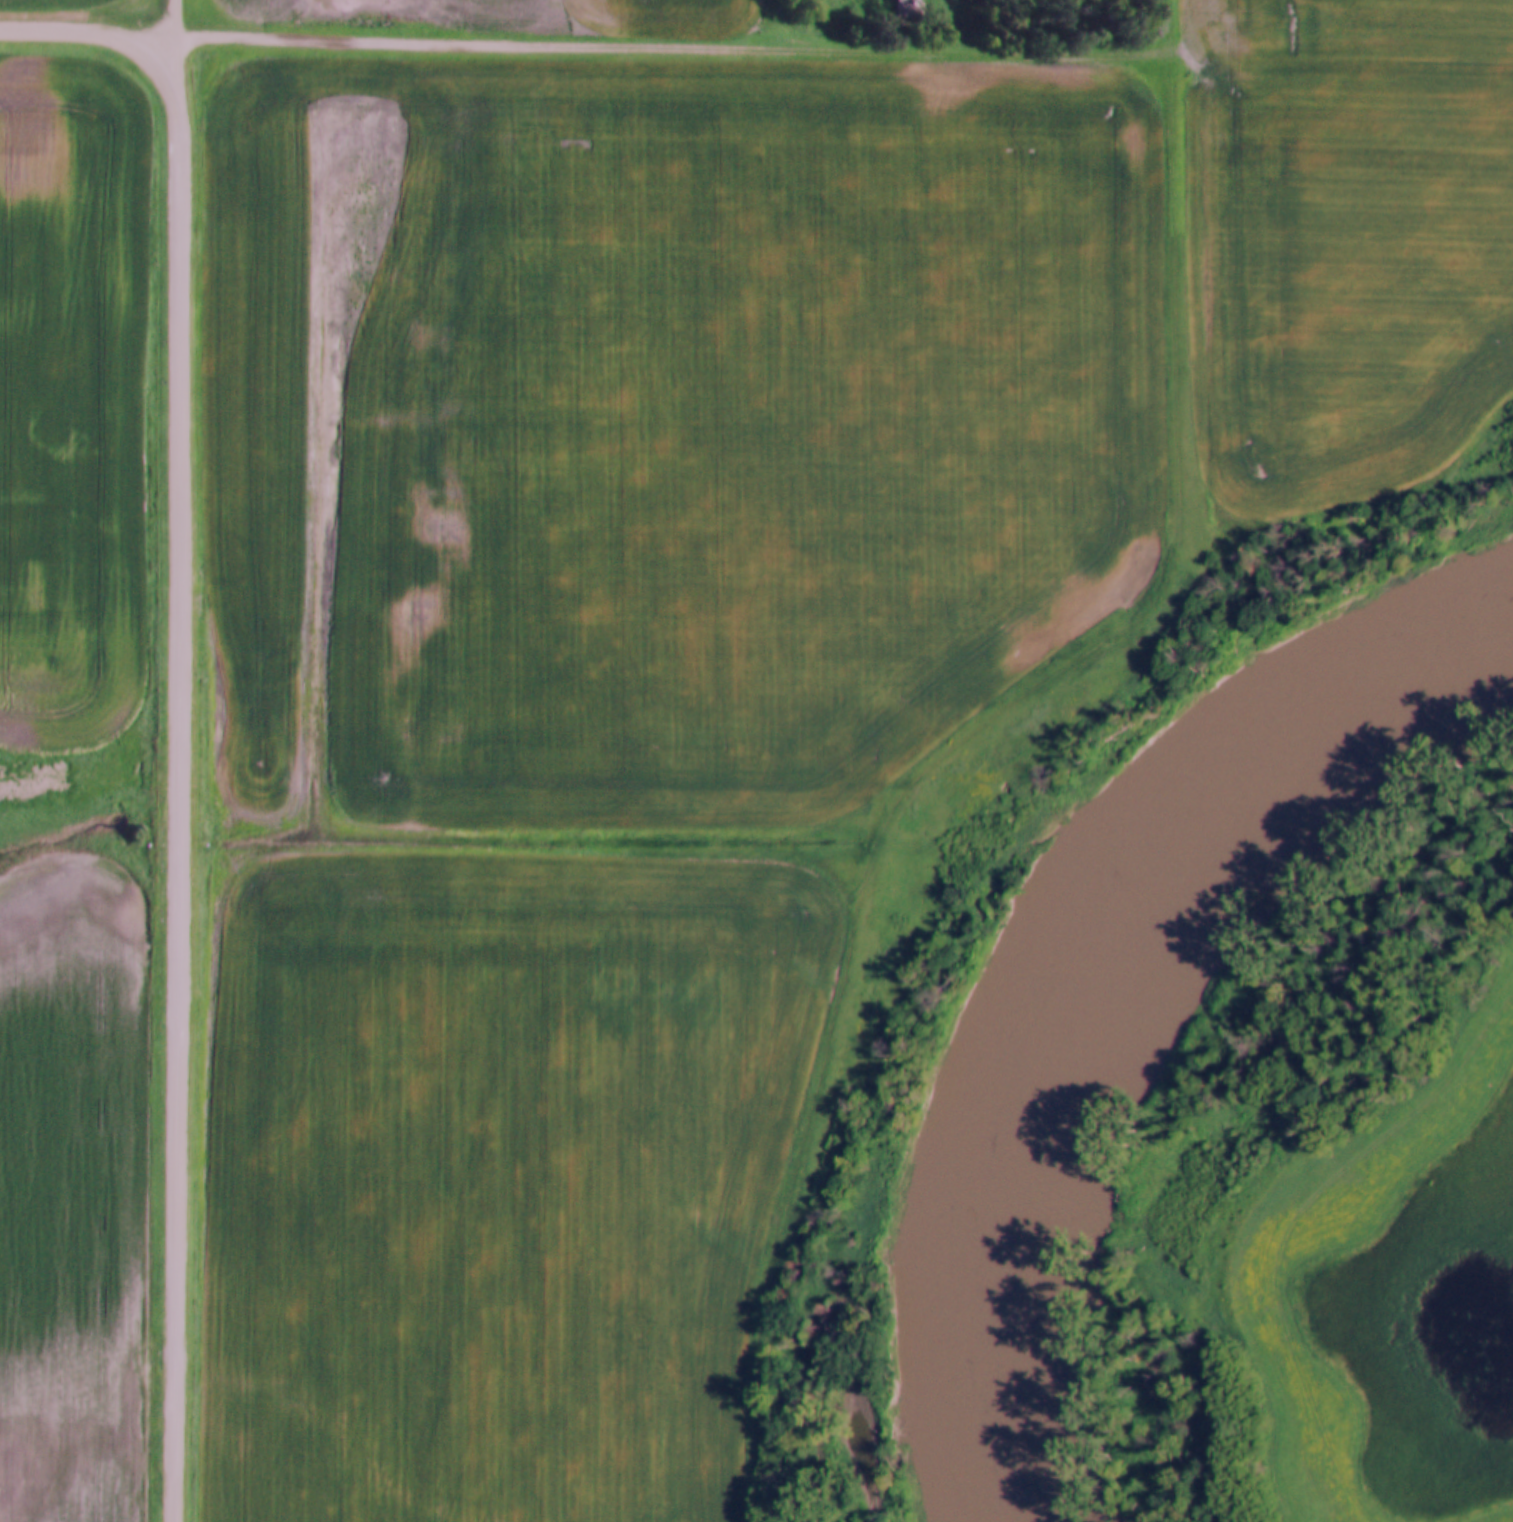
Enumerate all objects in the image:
road: (111, 41)
road: (694, 56)
road: (183, 59)
road: (182, 820)
river: (1111, 1003)

